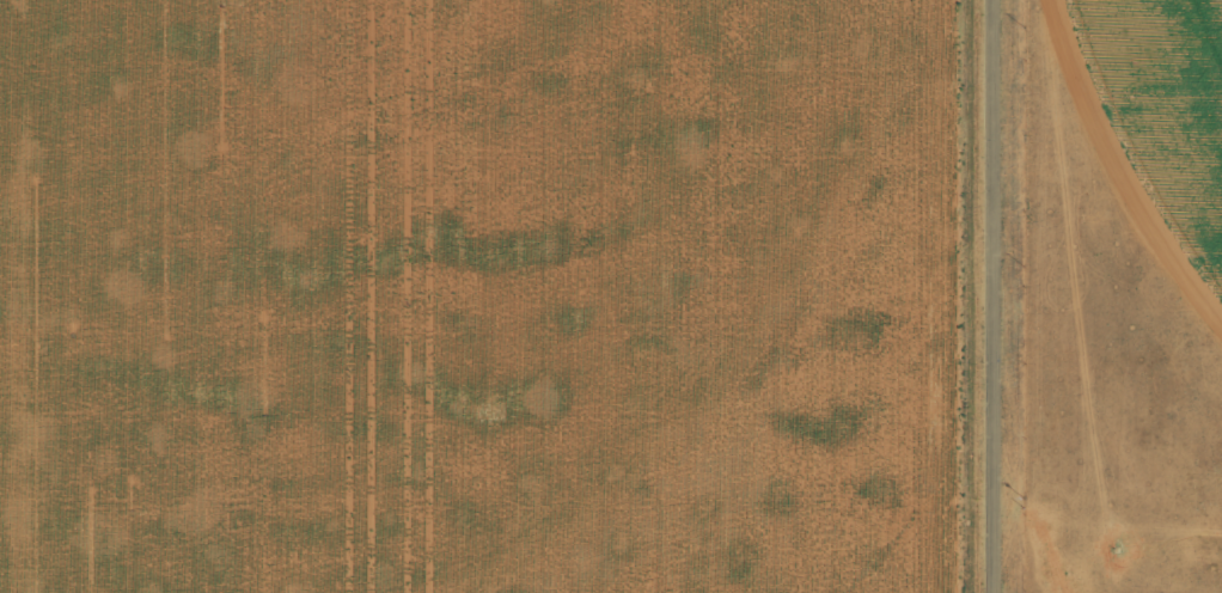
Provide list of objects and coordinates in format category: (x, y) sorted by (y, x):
road: (1015, 296)

